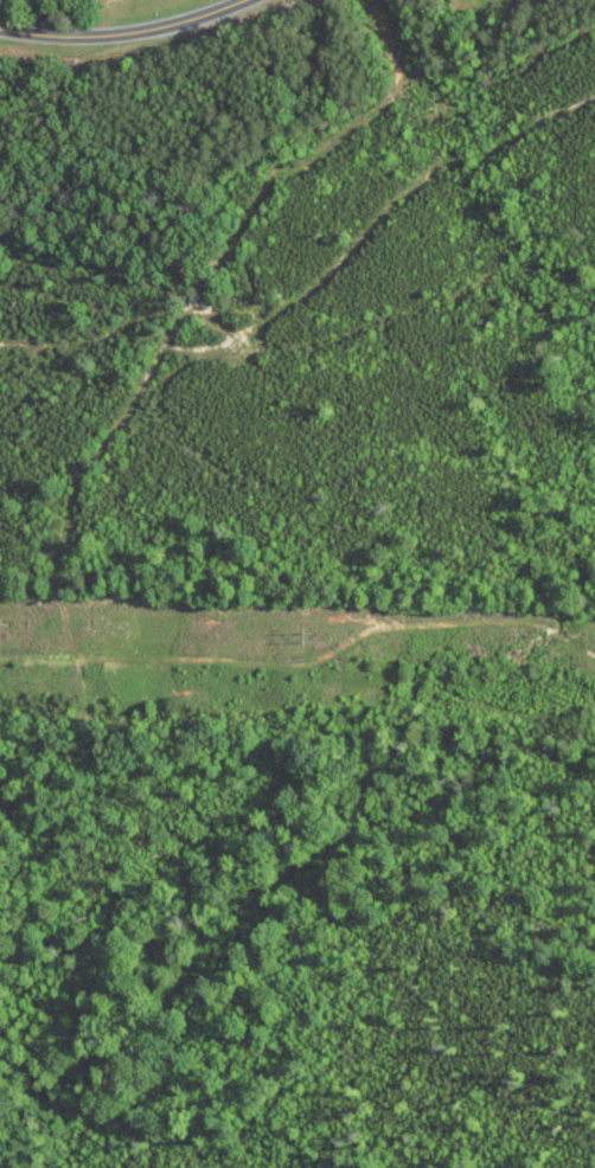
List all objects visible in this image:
road: (124, 33)
power tower: (8, 628)
power tower: (312, 637)

